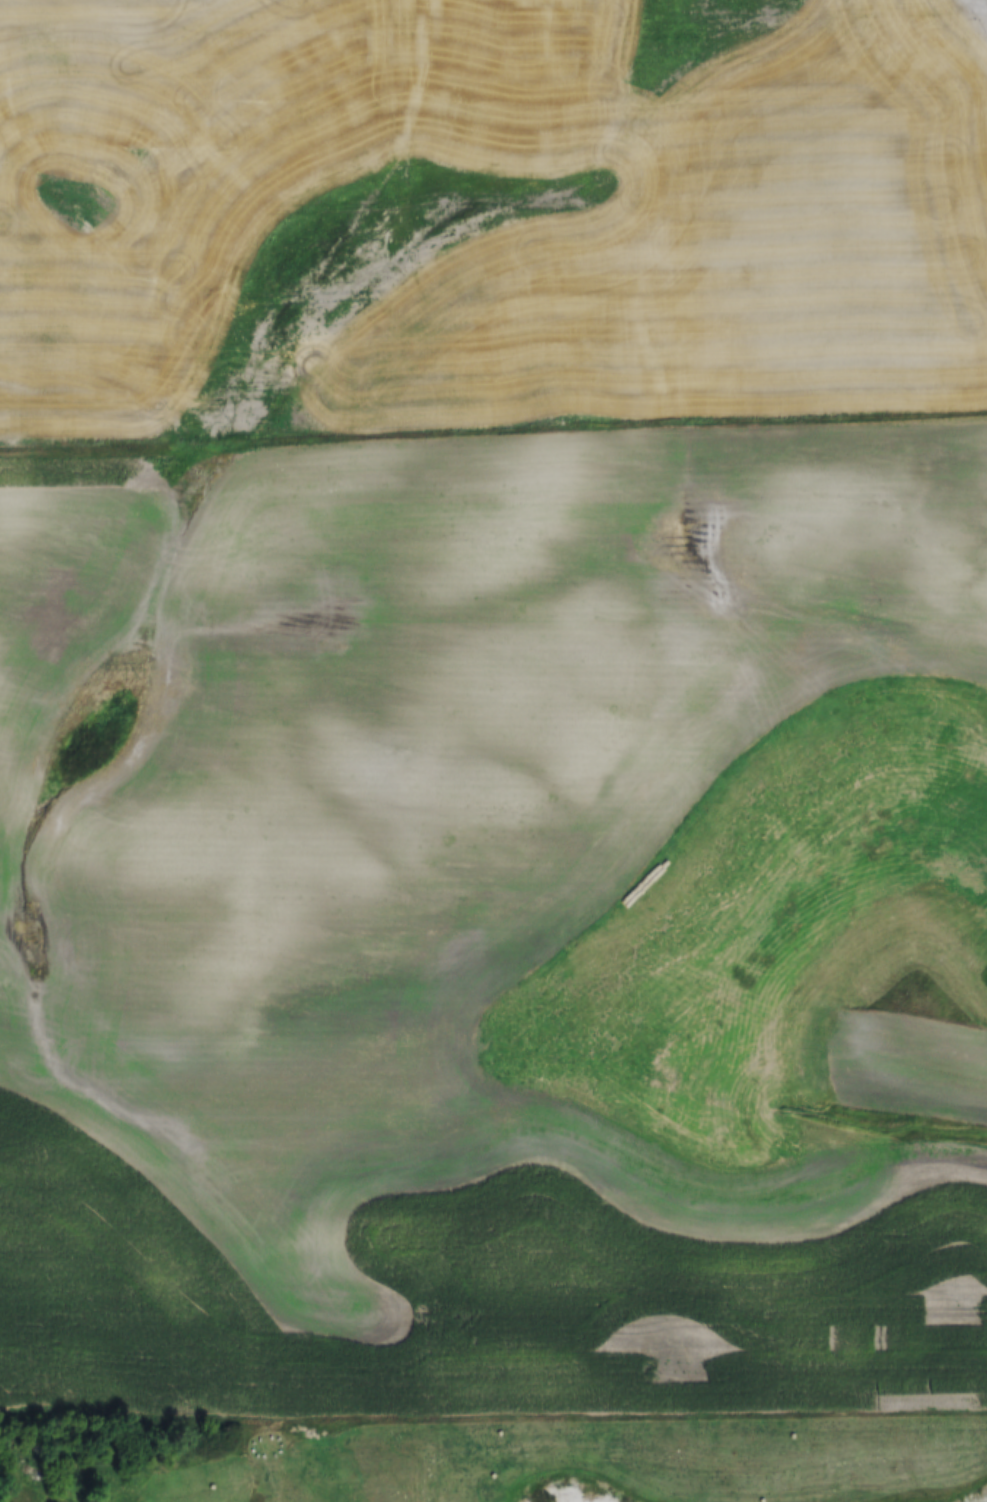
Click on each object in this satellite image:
road: (25, 1074)

